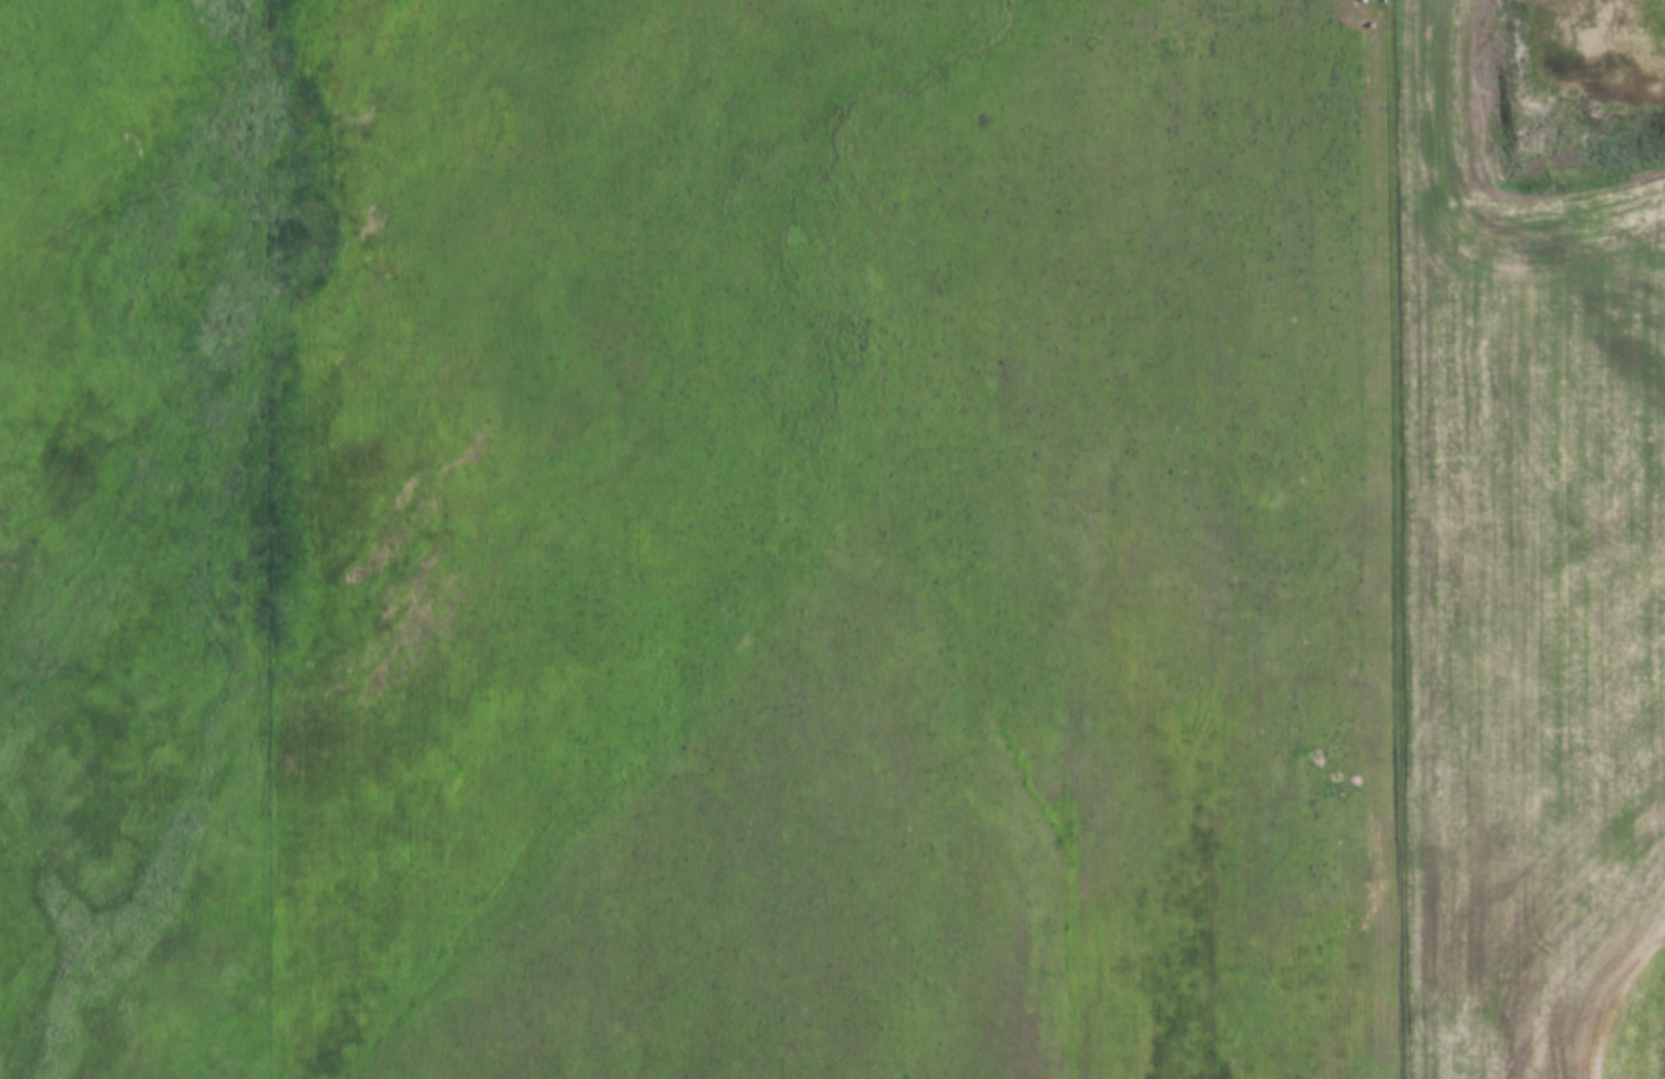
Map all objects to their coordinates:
quarry: (1646, 44)

